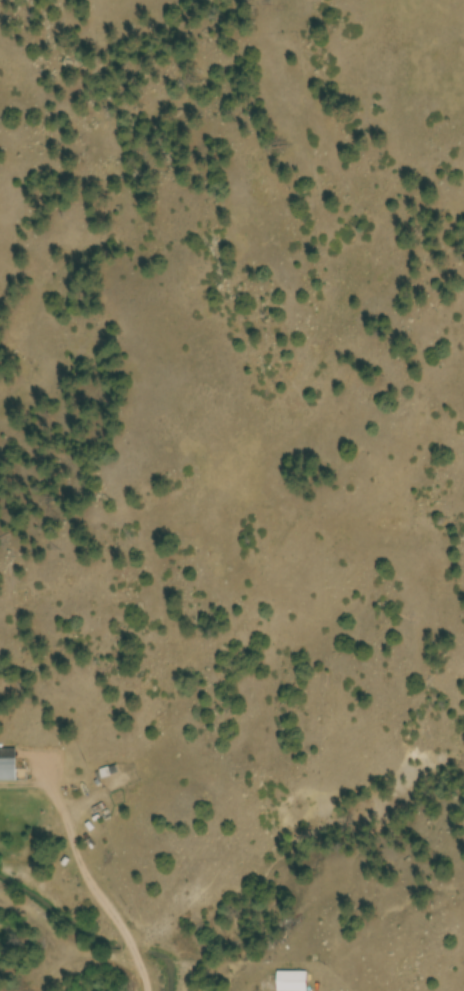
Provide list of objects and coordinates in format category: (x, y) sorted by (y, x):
building: (8, 765)
road: (451, 978)
building: (293, 981)

